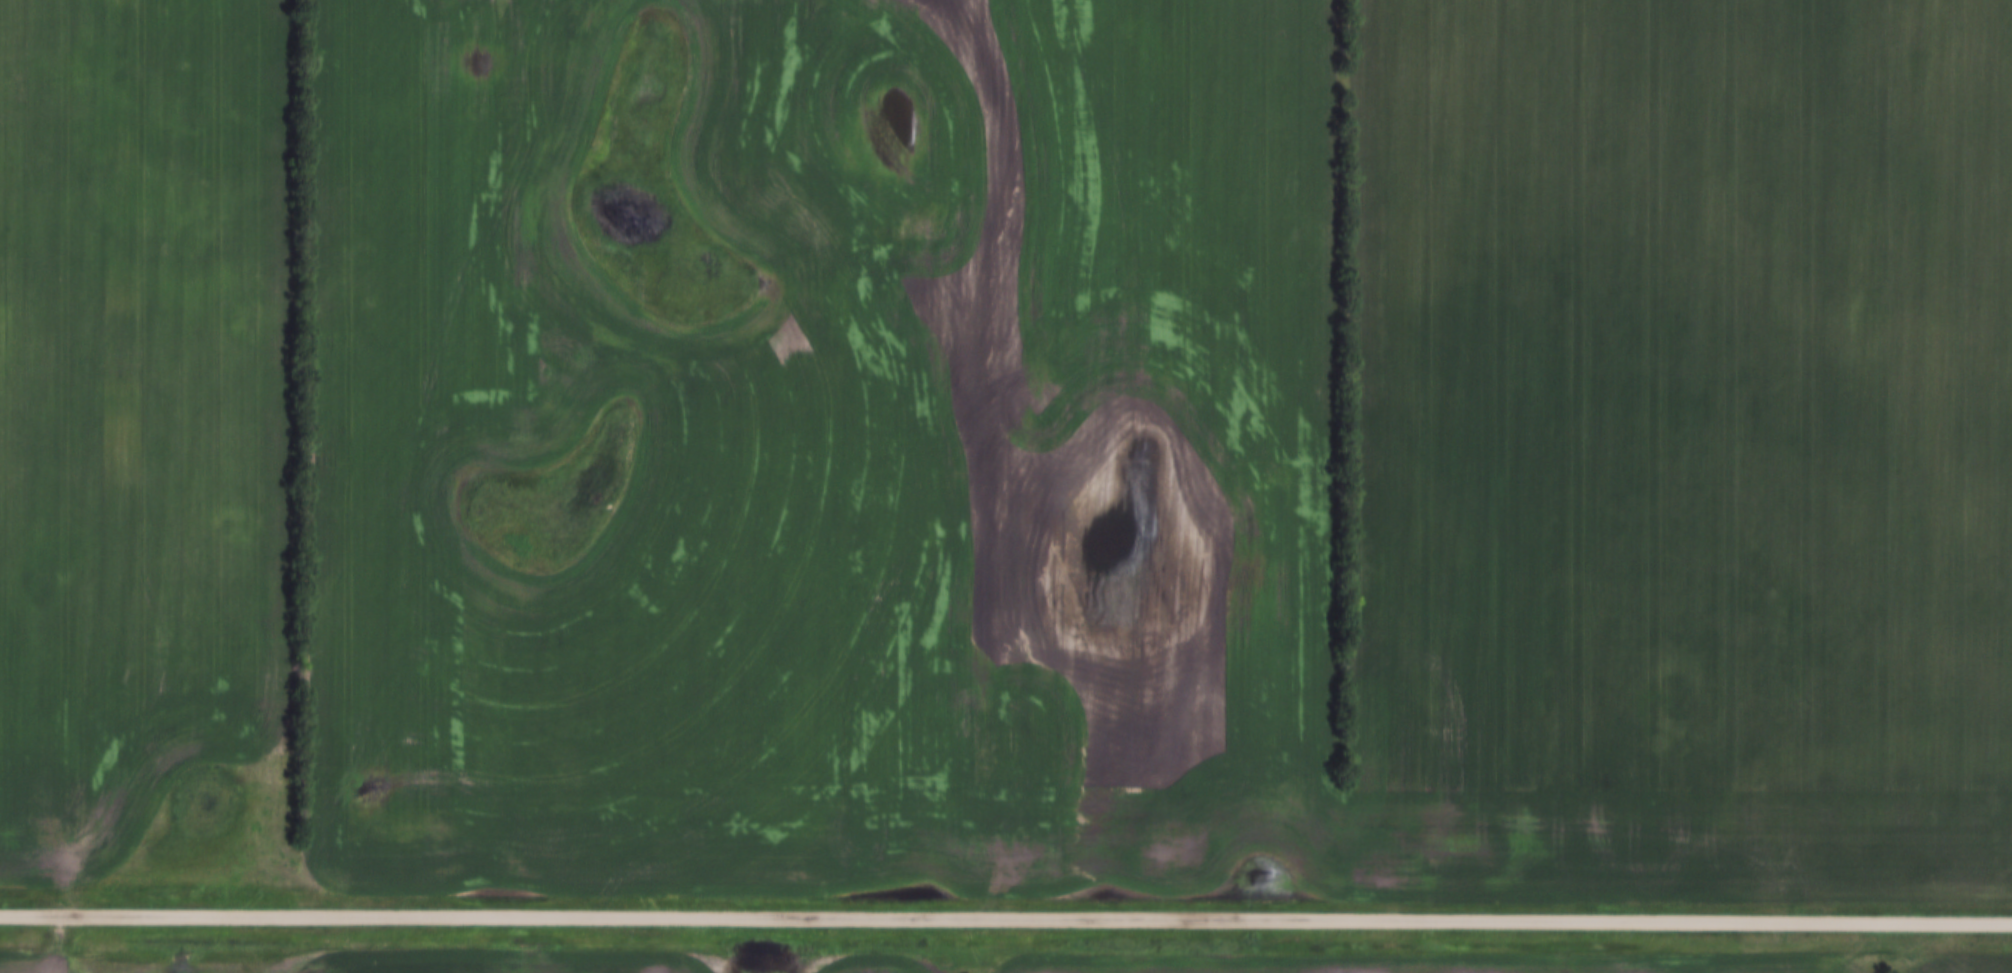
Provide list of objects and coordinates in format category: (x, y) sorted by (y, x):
road: (1006, 916)

